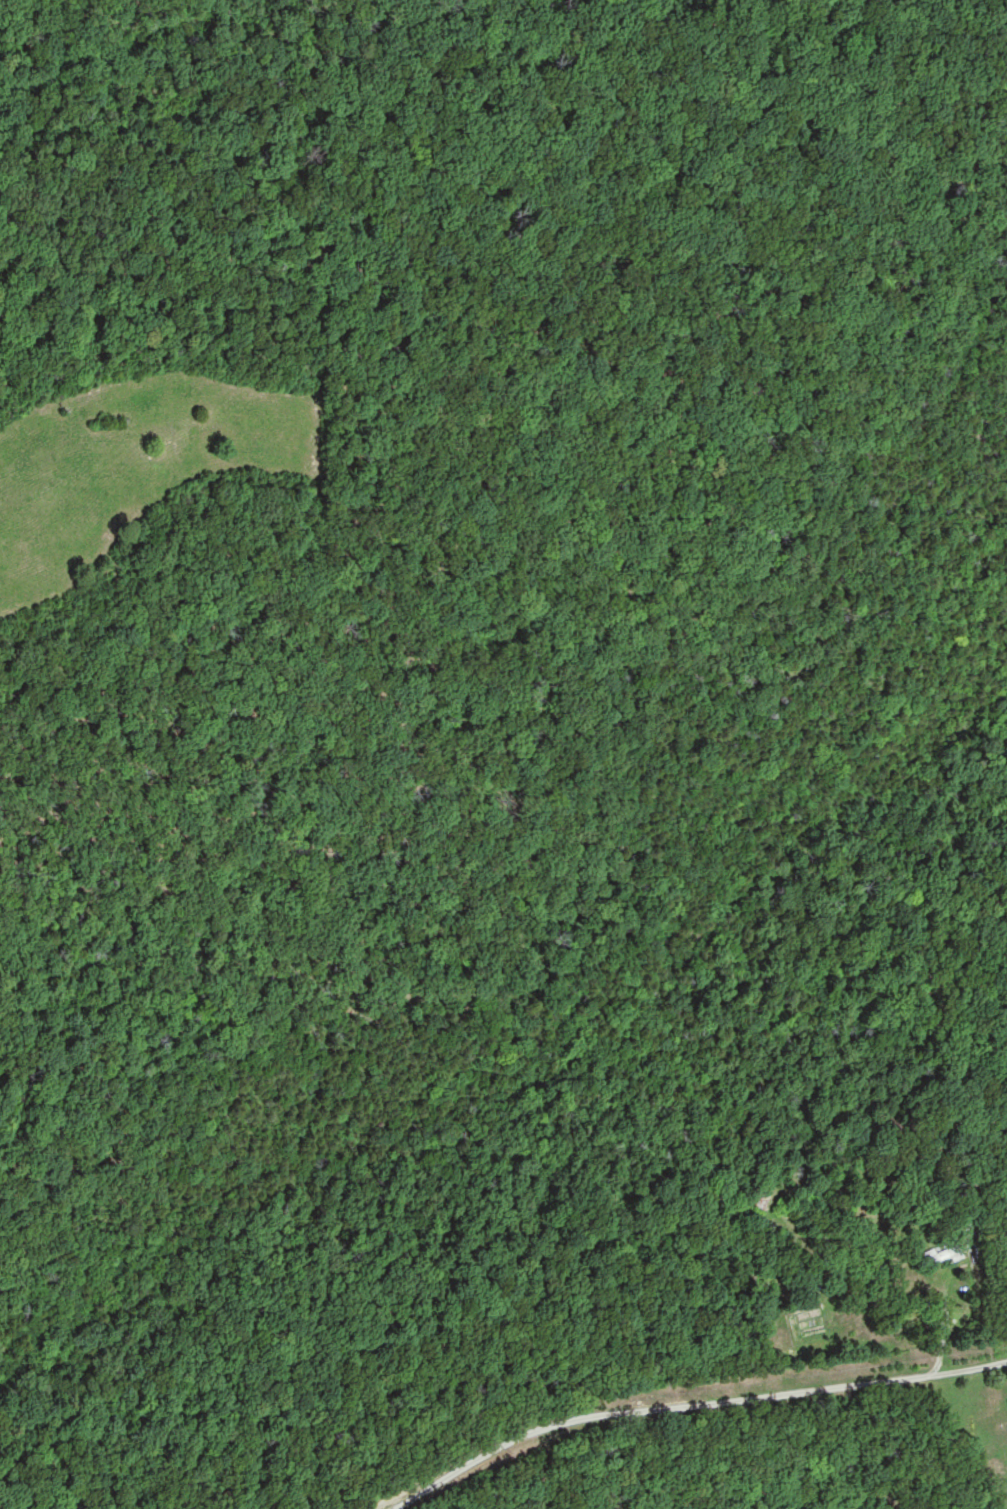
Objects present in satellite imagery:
building: (944, 1257)
road: (692, 1406)

